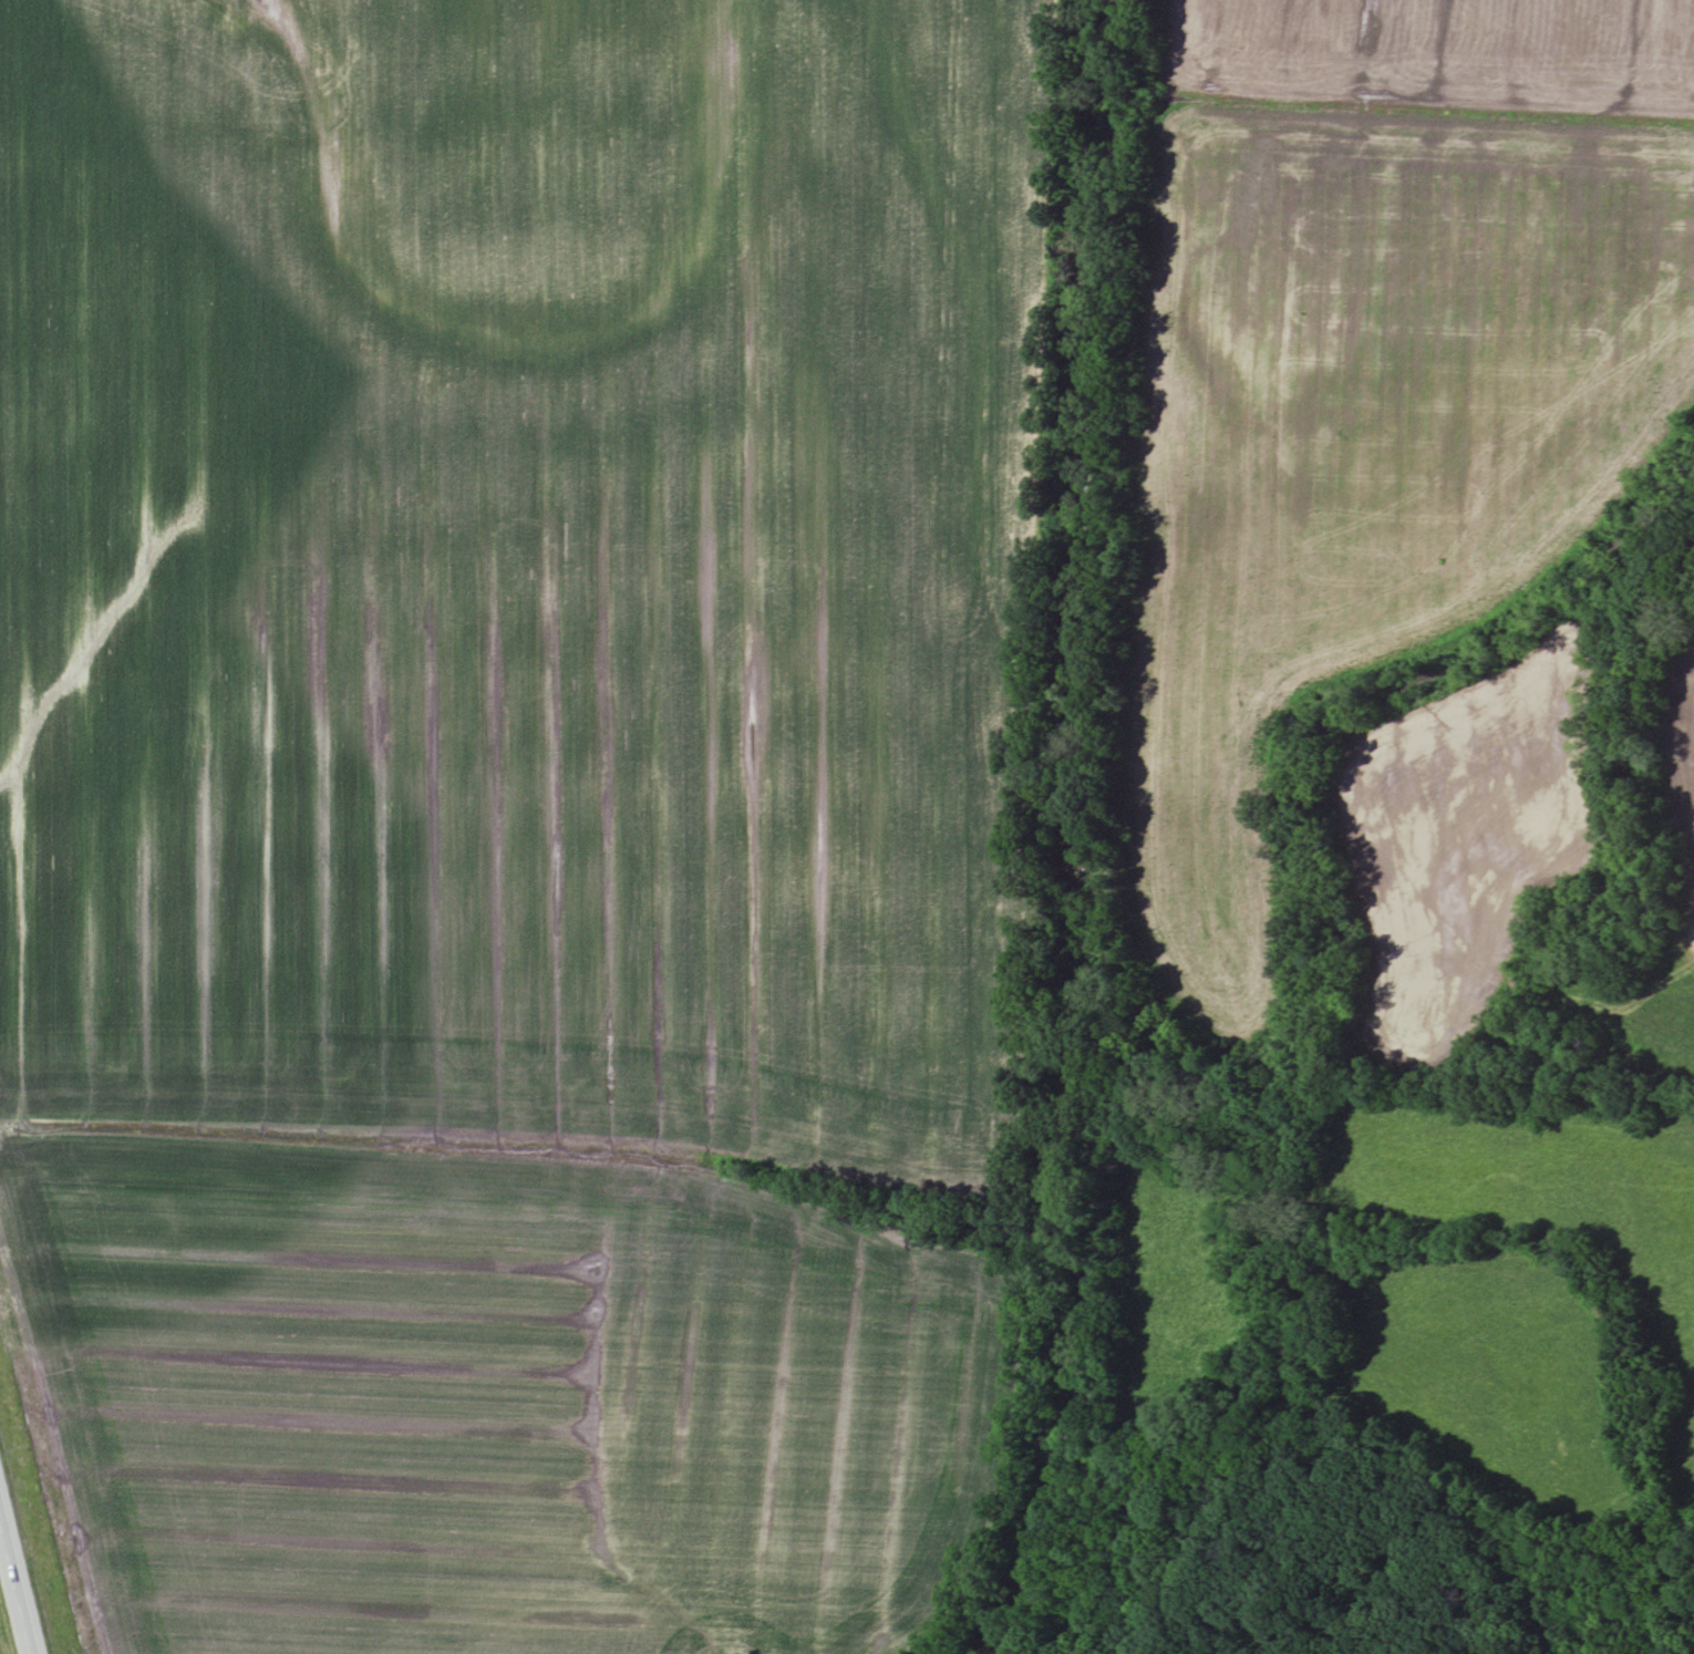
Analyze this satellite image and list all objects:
crop: (1438, 51)
crop: (1356, 452)
crop: (514, 567)
crop: (1463, 835)
crop: (488, 1396)
road: (19, 1571)

